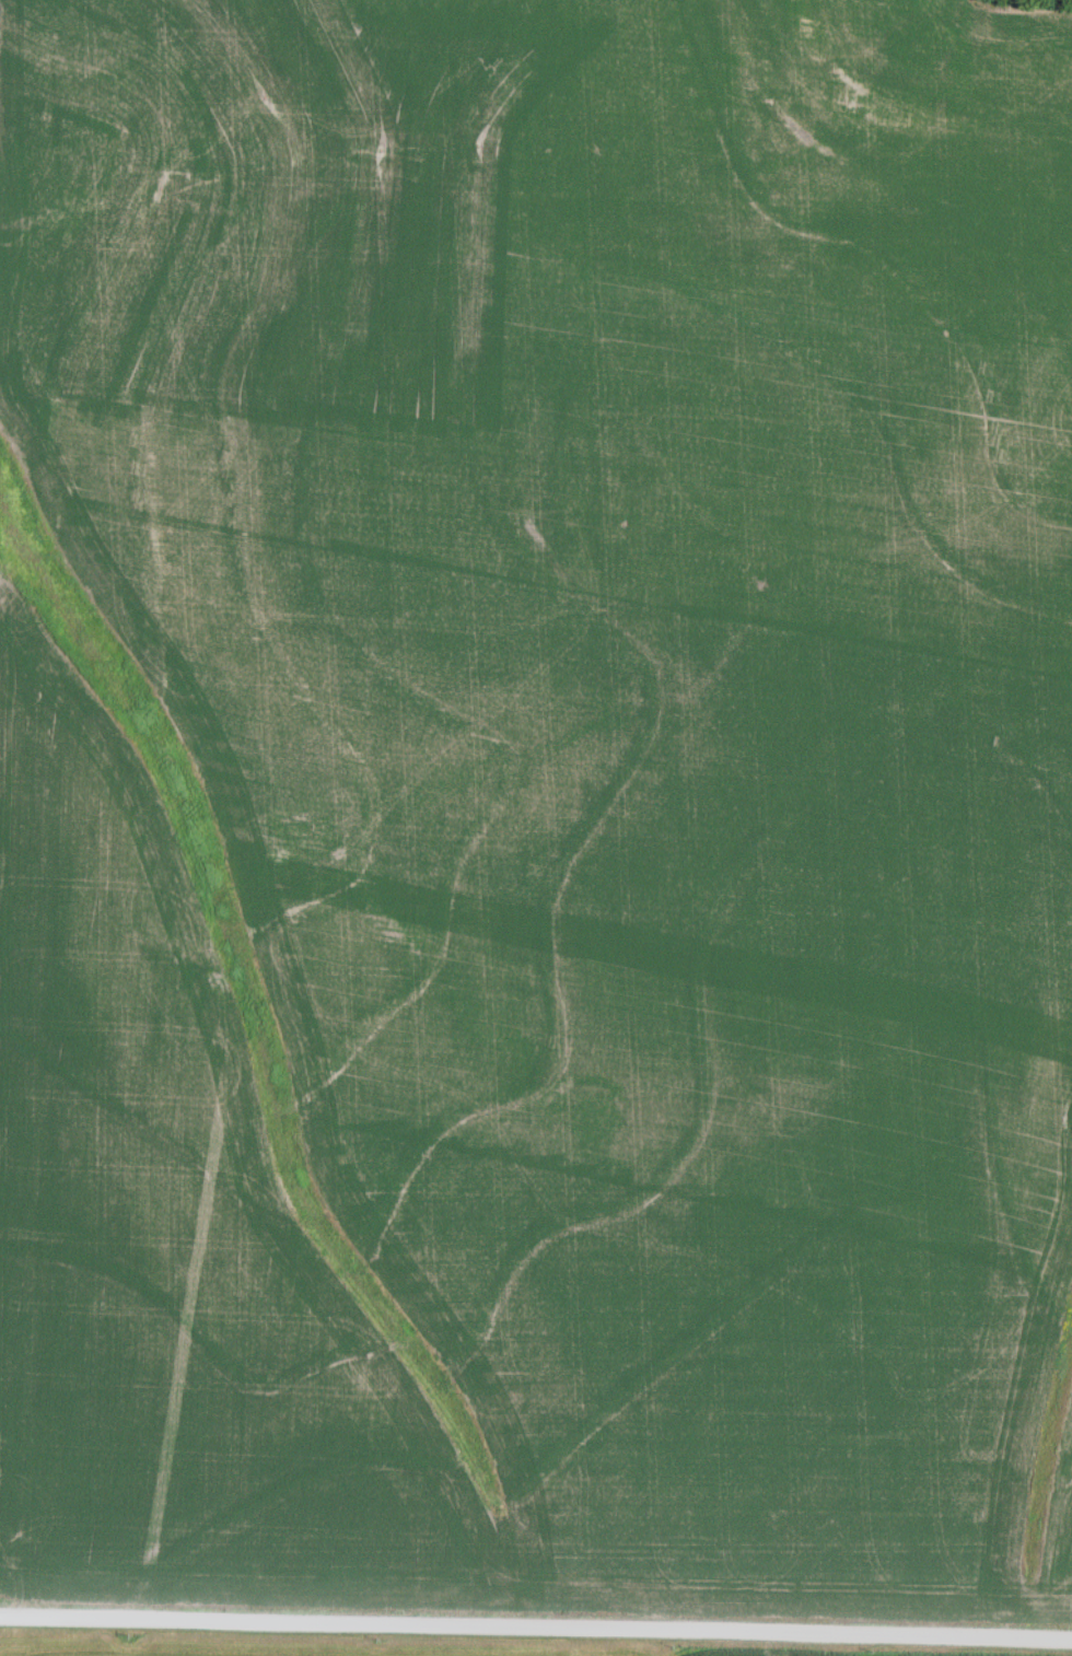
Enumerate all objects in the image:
road: (535, 1626)

